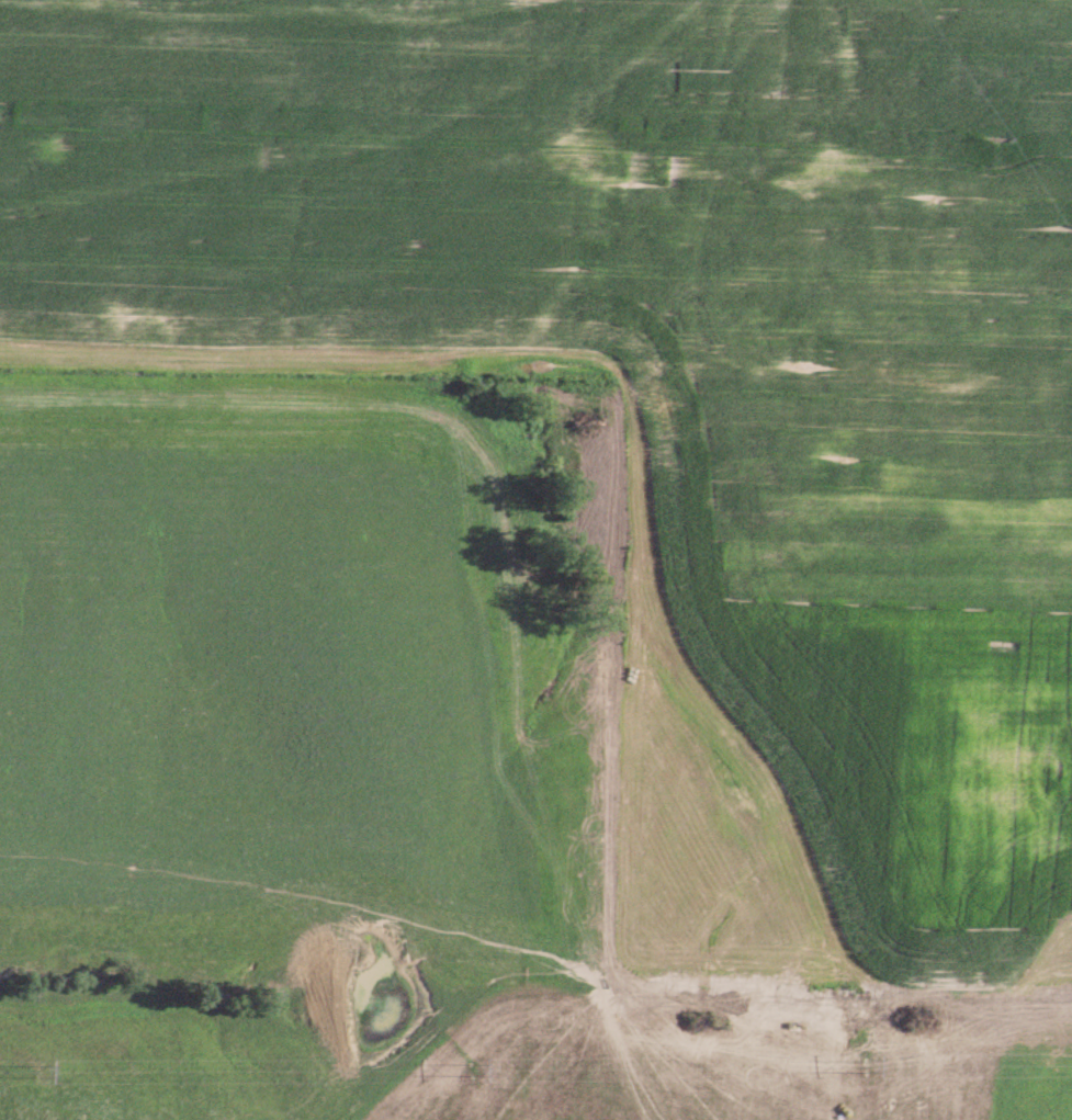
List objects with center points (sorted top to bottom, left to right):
power tower: (858, 1062)
power tower: (482, 1070)
power tower: (37, 1074)

